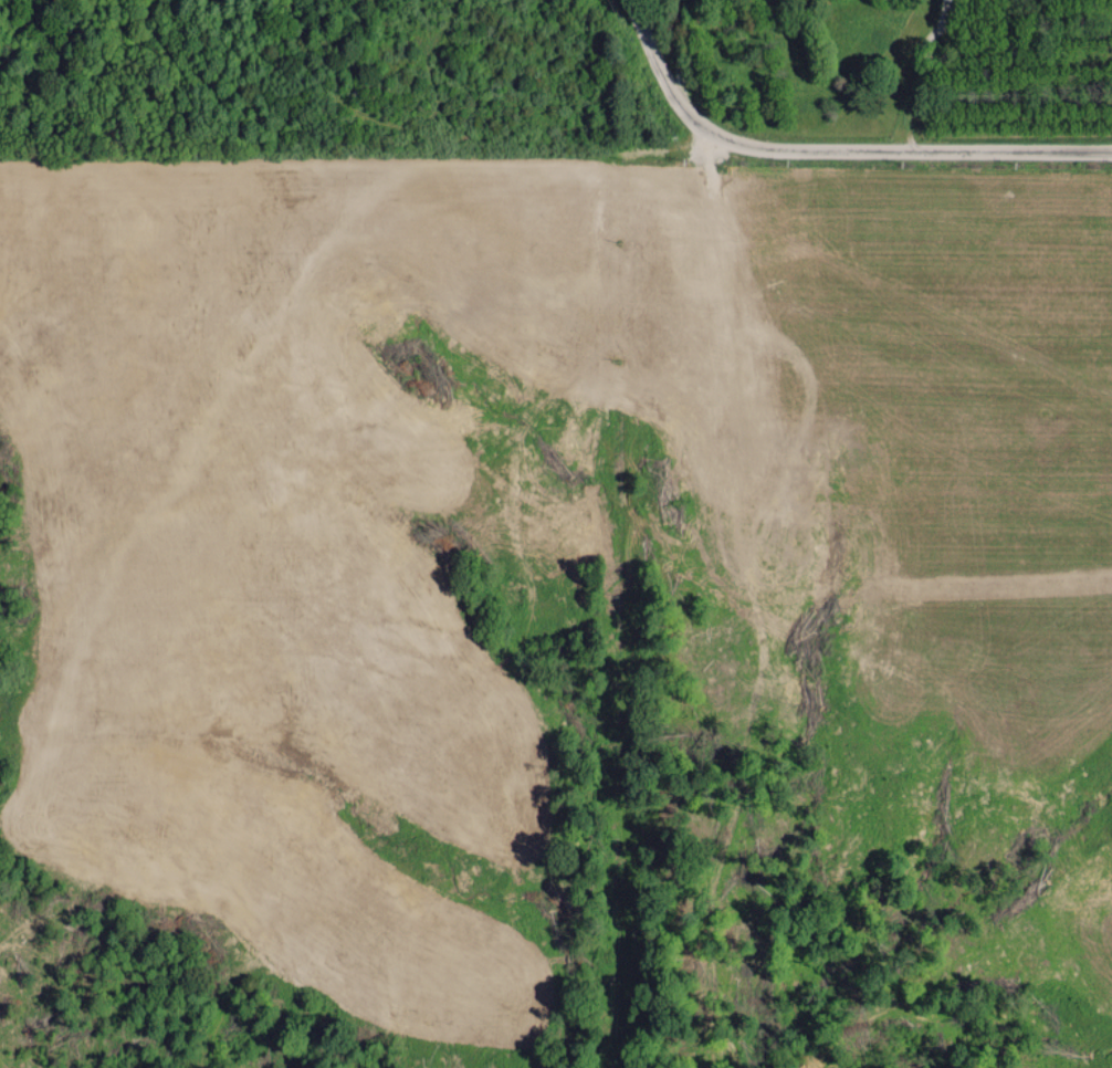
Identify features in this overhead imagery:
road: (663, 66)
road: (903, 149)

